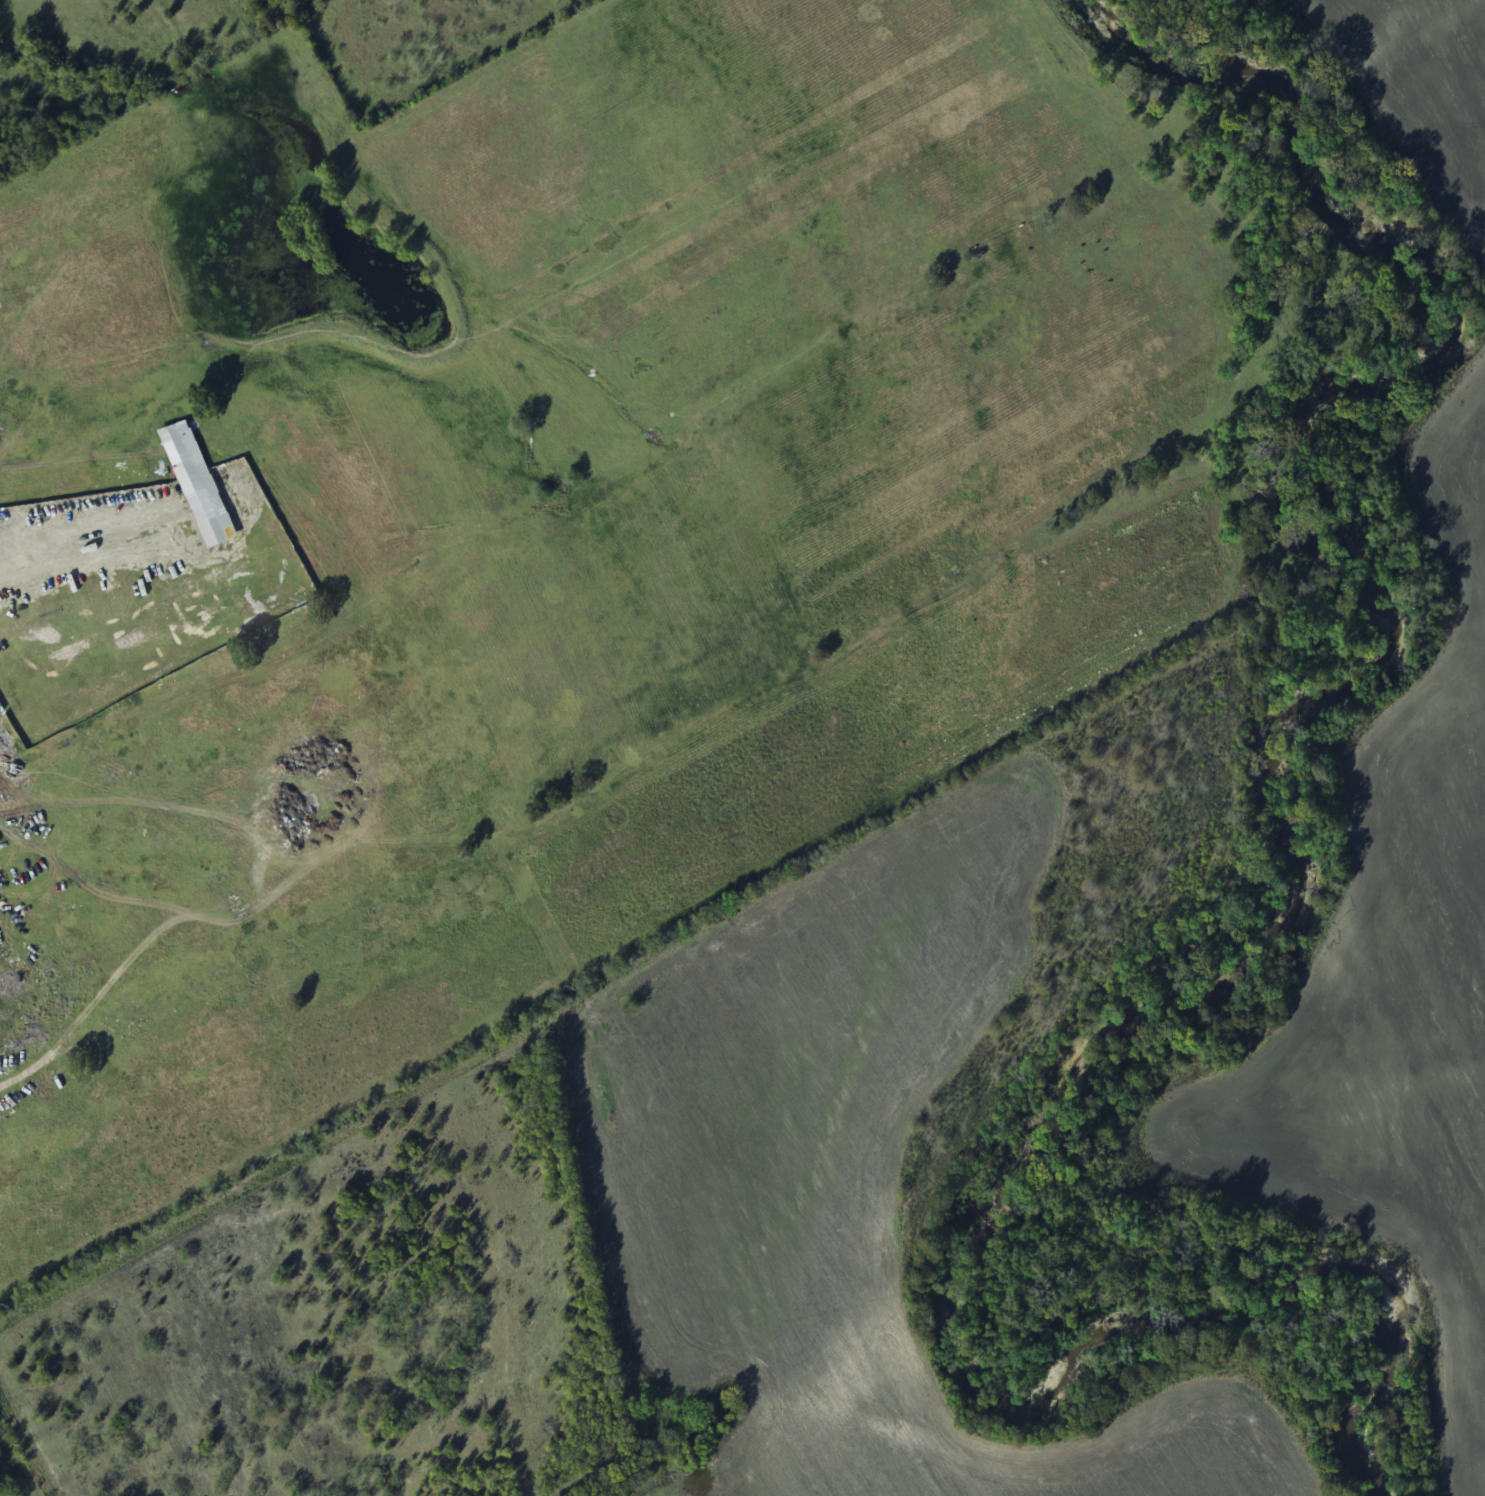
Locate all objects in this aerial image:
building: (197, 483)

